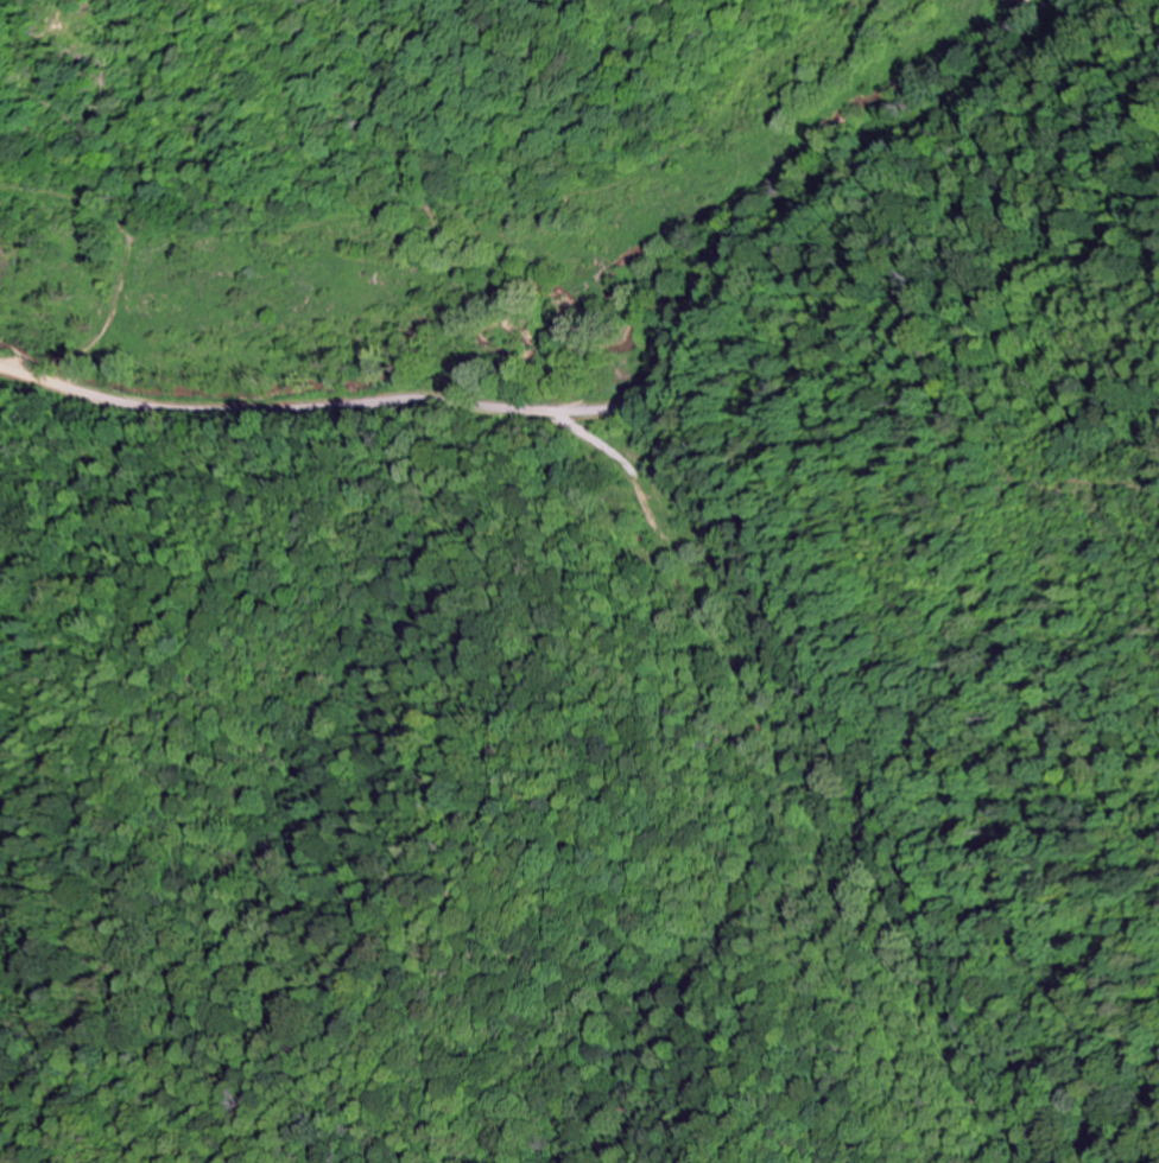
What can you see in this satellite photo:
road: (628, 399)

